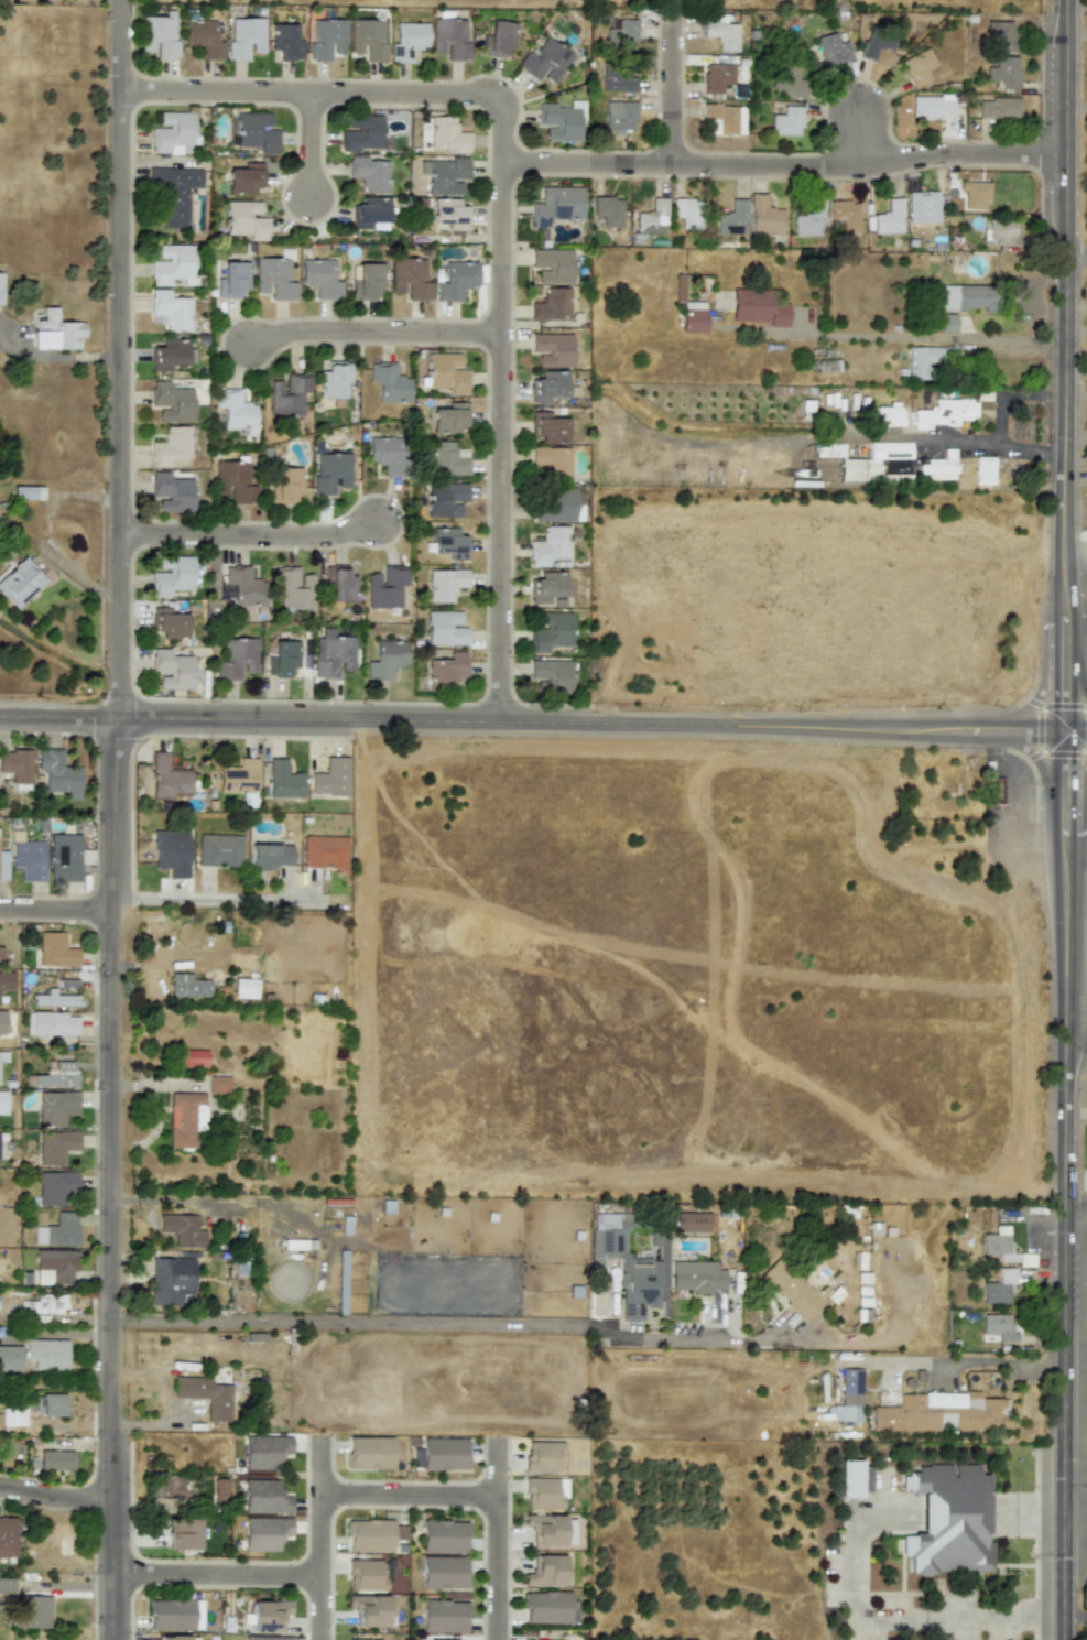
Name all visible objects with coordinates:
building: (623, 33)
building: (722, 34)
building: (160, 35)
building: (999, 35)
building: (244, 37)
building: (449, 37)
building: (203, 39)
building: (327, 39)
building: (368, 39)
building: (499, 39)
building: (407, 40)
building: (285, 42)
building: (874, 44)
building: (833, 50)
building: (545, 61)
building: (917, 66)
building: (1003, 72)
building: (717, 77)
building: (787, 80)
building: (619, 83)
road: (673, 89)
building: (931, 107)
building: (998, 108)
building: (620, 116)
building: (726, 117)
building: (561, 121)
building: (787, 121)
building: (256, 132)
building: (173, 133)
building: (363, 133)
road: (859, 134)
building: (446, 135)
road: (305, 144)
road: (786, 169)
building: (369, 173)
building: (444, 175)
building: (244, 178)
building: (173, 192)
building: (974, 194)
building: (556, 205)
building: (370, 210)
building: (608, 210)
building: (687, 213)
building: (449, 214)
building: (845, 214)
building: (763, 216)
road: (502, 217)
building: (651, 217)
building: (889, 218)
building: (246, 219)
building: (731, 219)
building: (809, 219)
building: (1002, 231)
road: (1078, 254)
building: (172, 263)
building: (552, 265)
building: (274, 278)
building: (320, 279)
building: (410, 279)
building: (232, 280)
building: (456, 280)
building: (367, 282)
building: (1, 287)
building: (967, 297)
building: (552, 305)
building: (757, 307)
building: (171, 309)
building: (693, 316)
building: (946, 323)
building: (54, 330)
road: (376, 336)
road: (892, 336)
building: (552, 349)
building: (169, 355)
road: (119, 359)
building: (924, 361)
road: (1069, 366)
building: (446, 372)
building: (334, 379)
building: (389, 382)
building: (547, 385)
building: (289, 394)
building: (171, 402)
building: (233, 409)
building: (953, 411)
building: (889, 416)
building: (448, 419)
building: (922, 420)
building: (547, 427)
road: (735, 442)
building: (172, 446)
building: (385, 454)
building: (447, 459)
building: (552, 461)
building: (873, 461)
building: (938, 467)
building: (983, 470)
building: (330, 471)
building: (233, 480)
building: (284, 485)
building: (26, 492)
building: (172, 492)
building: (445, 499)
building: (556, 506)
road: (250, 537)
building: (448, 543)
building: (550, 545)
building: (172, 575)
building: (19, 582)
building: (339, 584)
building: (445, 584)
building: (384, 586)
building: (242, 587)
building: (547, 587)
building: (293, 589)
building: (169, 622)
building: (444, 628)
building: (551, 631)
building: (331, 654)
building: (237, 658)
building: (282, 658)
building: (385, 659)
building: (172, 670)
building: (445, 670)
building: (551, 674)
road: (1076, 675)
road: (1034, 702)
road: (58, 718)
road: (589, 726)
road: (1075, 732)
road: (1032, 753)
building: (17, 768)
building: (58, 774)
building: (239, 776)
building: (167, 778)
building: (330, 778)
road: (1075, 779)
building: (283, 780)
building: (992, 791)
building: (219, 849)
building: (171, 852)
building: (325, 852)
building: (269, 856)
building: (26, 857)
building: (64, 857)
building: (2, 865)
road: (1077, 904)
road: (193, 905)
road: (56, 911)
building: (55, 951)
building: (0, 956)
building: (6, 980)
building: (187, 986)
building: (244, 988)
building: (54, 999)
building: (2, 1022)
road: (1077, 1053)
building: (3, 1055)
building: (192, 1057)
building: (56, 1074)
building: (218, 1084)
building: (2, 1101)
building: (55, 1107)
building: (185, 1118)
building: (55, 1145)
road: (112, 1179)
road: (1067, 1185)
building: (55, 1186)
road: (170, 1202)
road: (1077, 1210)
building: (689, 1221)
building: (181, 1229)
building: (57, 1230)
building: (998, 1243)
building: (631, 1263)
building: (54, 1266)
building: (696, 1275)
building: (170, 1280)
building: (998, 1286)
building: (790, 1289)
road: (458, 1324)
building: (997, 1328)
building: (46, 1354)
road: (967, 1360)
building: (205, 1395)
building: (848, 1397)
building: (941, 1413)
building: (12, 1416)
building: (264, 1451)
building: (369, 1453)
building: (439, 1454)
building: (544, 1456)
building: (55, 1459)
building: (854, 1479)
building: (169, 1486)
building: (219, 1490)
building: (544, 1492)
road: (409, 1495)
road: (55, 1497)
building: (264, 1497)
road: (952, 1506)
road: (1024, 1508)
building: (948, 1520)
building: (545, 1529)
road: (857, 1530)
building: (264, 1532)
building: (399, 1532)
building: (182, 1533)
building: (369, 1535)
building: (8, 1536)
building: (444, 1536)
building: (63, 1538)
road: (320, 1538)
road: (498, 1539)
building: (545, 1571)
building: (444, 1572)
road: (216, 1574)
building: (365, 1574)
building: (7, 1585)
building: (546, 1607)
building: (368, 1609)
building: (31, 1612)
building: (171, 1615)
building: (269, 1615)
building: (443, 1616)
road: (891, 1618)
road: (997, 1620)
building: (172, 1638)
building: (265, 1638)
building: (370, 1639)

